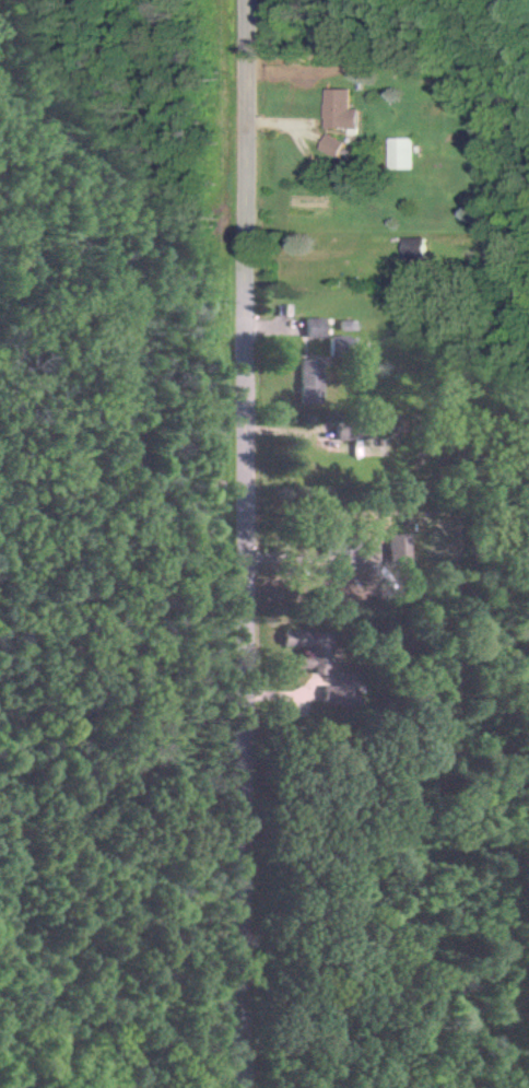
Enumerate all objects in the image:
building: (338, 110)
building: (330, 147)
building: (398, 154)
building: (412, 247)
building: (314, 327)
building: (309, 383)
road: (245, 543)
building: (397, 550)
building: (339, 698)

